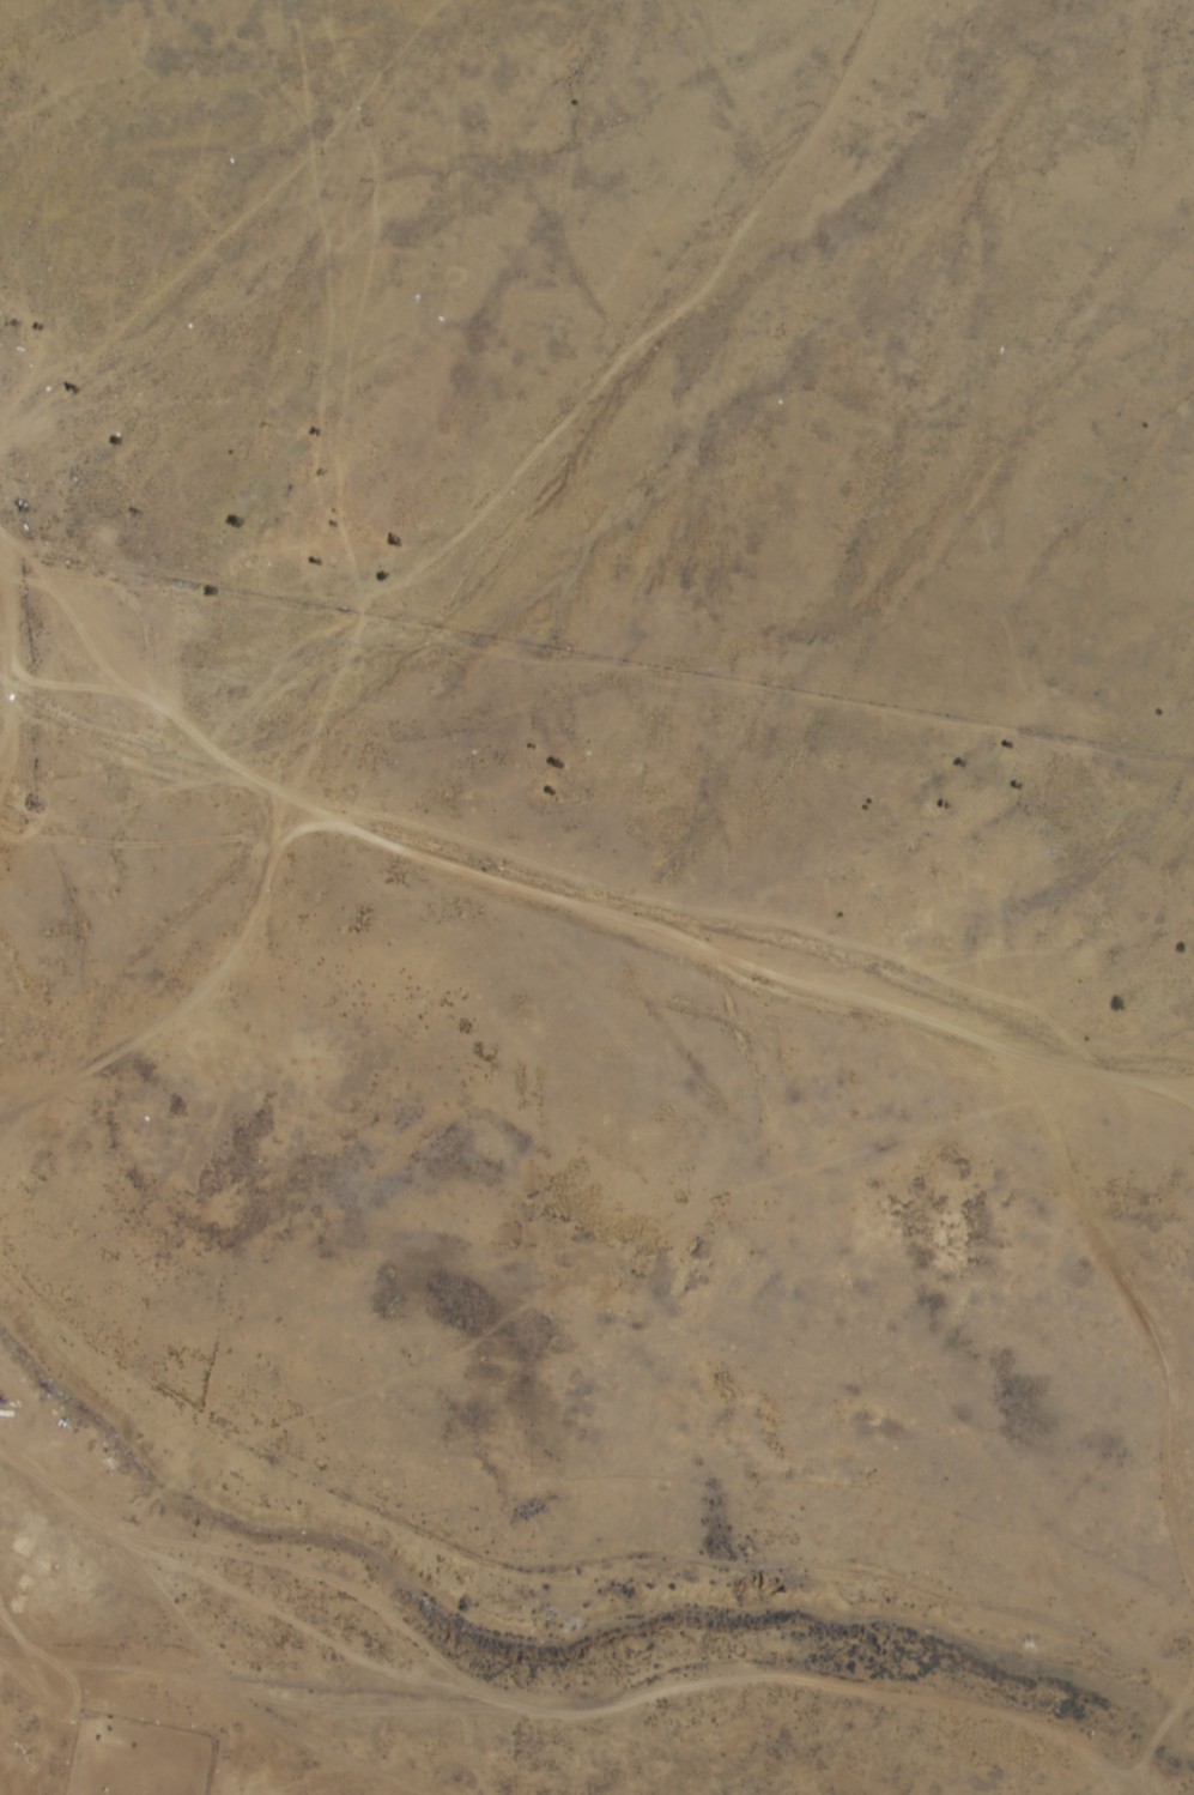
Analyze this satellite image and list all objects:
road: (135, 737)
road: (307, 766)

